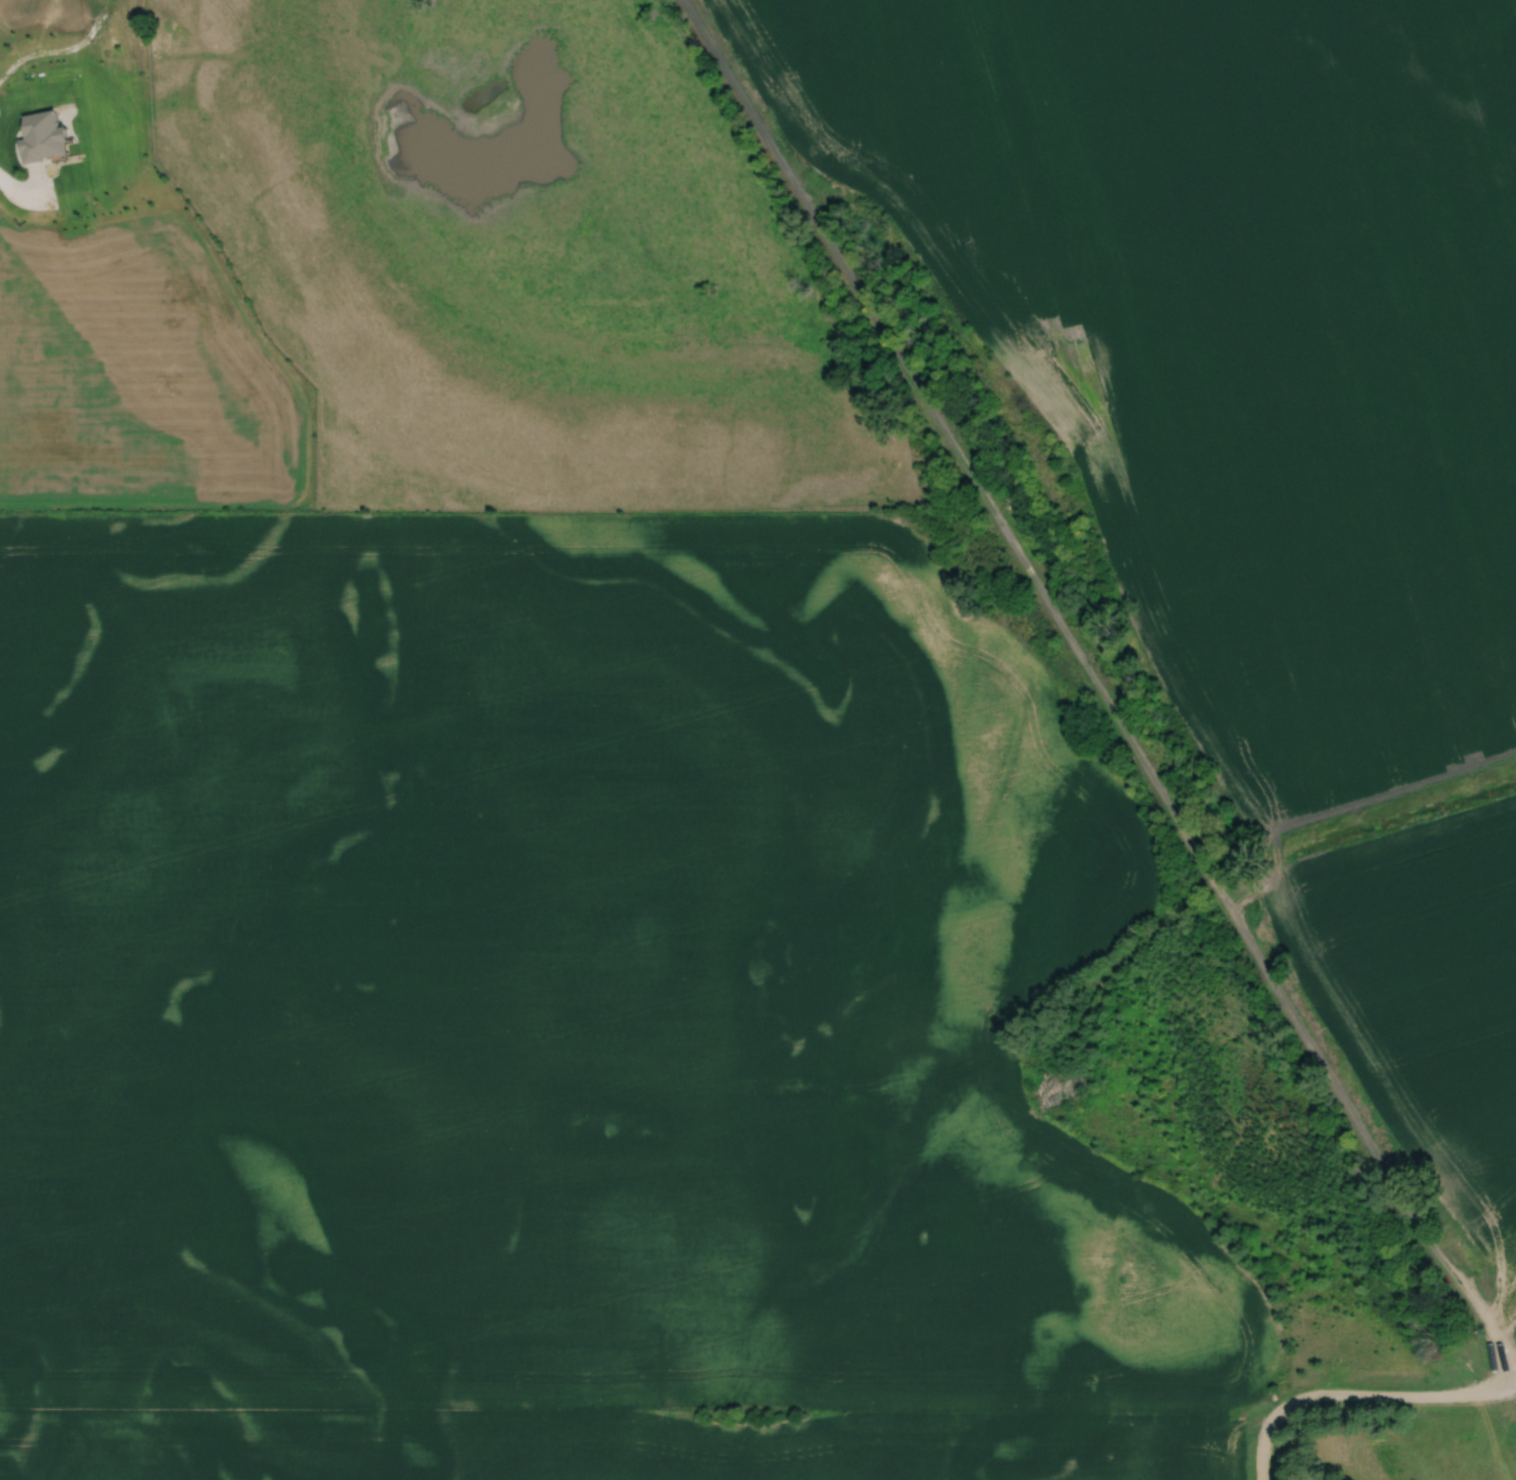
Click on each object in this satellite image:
road: (13, 185)
road: (1386, 1402)
road: (1269, 1458)

